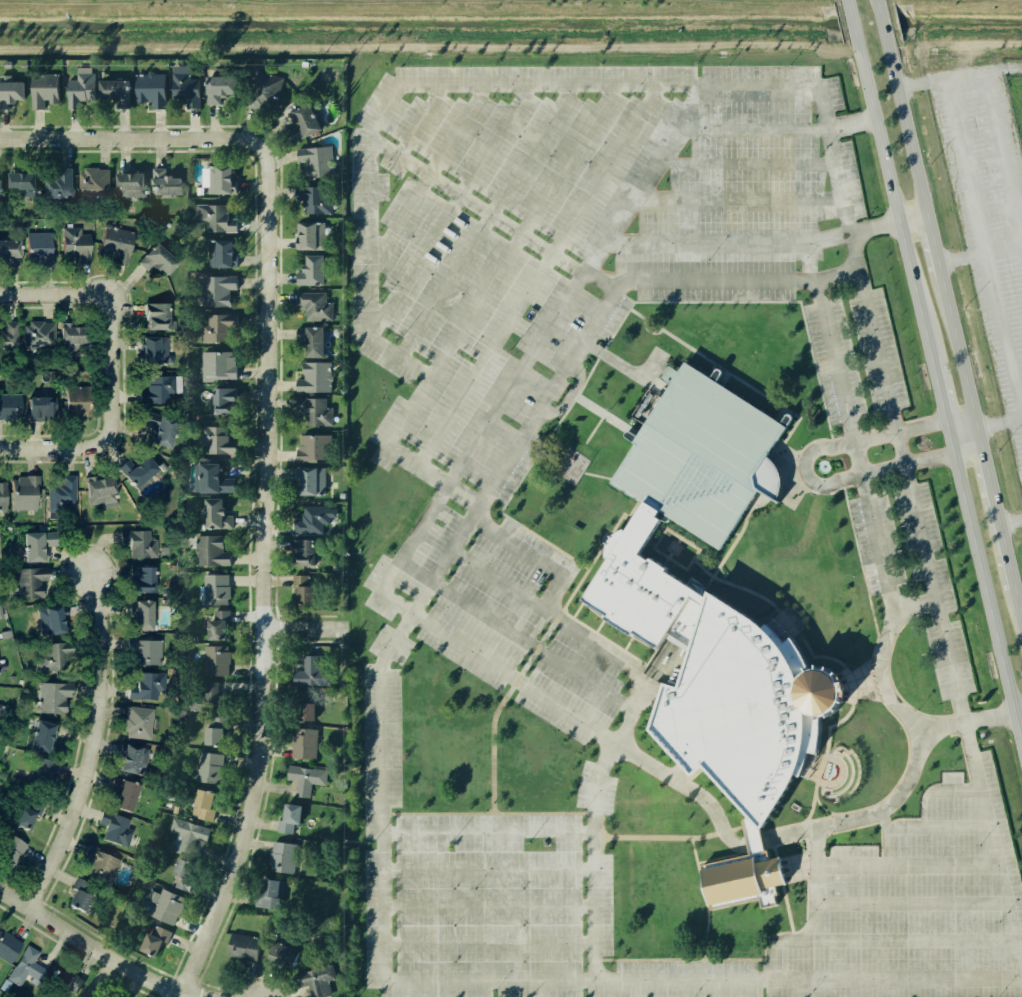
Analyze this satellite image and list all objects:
road: (881, 23)
road: (851, 26)
building: (6, 64)
road: (958, 76)
building: (80, 86)
building: (222, 86)
building: (187, 87)
building: (44, 88)
building: (152, 88)
building: (116, 90)
building: (265, 90)
building: (9, 91)
road: (386, 95)
building: (310, 119)
road: (417, 120)
road: (774, 131)
road: (906, 131)
road: (127, 138)
road: (1002, 157)
building: (316, 162)
road: (745, 162)
road: (424, 173)
building: (222, 180)
building: (94, 182)
building: (0, 183)
building: (132, 183)
building: (59, 184)
building: (167, 184)
building: (23, 185)
building: (318, 199)
road: (736, 200)
road: (475, 204)
road: (894, 208)
road: (447, 210)
building: (214, 217)
parking lot: (988, 218)
road: (912, 219)
road: (482, 220)
building: (313, 234)
building: (118, 243)
road: (751, 243)
road: (981, 245)
road: (1021, 245)
building: (75, 246)
road: (933, 246)
road: (1002, 247)
building: (40, 249)
building: (9, 251)
building: (222, 254)
road: (960, 256)
building: (160, 261)
road: (804, 263)
building: (314, 271)
road: (535, 275)
road: (581, 277)
road: (839, 277)
road: (600, 282)
road: (661, 283)
building: (218, 290)
road: (55, 295)
road: (480, 295)
building: (316, 304)
building: (158, 316)
building: (215, 328)
building: (39, 332)
building: (7, 335)
building: (73, 337)
building: (313, 339)
building: (155, 352)
road: (958, 352)
building: (220, 363)
road: (110, 368)
building: (317, 377)
parking lot: (863, 388)
building: (162, 391)
building: (226, 400)
road: (939, 401)
building: (79, 404)
building: (10, 405)
building: (42, 408)
building: (317, 410)
road: (999, 422)
road: (894, 429)
building: (161, 430)
road: (962, 433)
building: (219, 441)
road: (52, 448)
building: (316, 448)
building: (700, 458)
road: (984, 464)
road: (804, 470)
building: (146, 475)
building: (208, 477)
building: (314, 479)
building: (100, 491)
building: (25, 493)
building: (62, 493)
building: (3, 497)
building: (216, 511)
building: (314, 518)
road: (1010, 520)
building: (139, 543)
building: (34, 546)
road: (520, 547)
building: (213, 549)
building: (306, 552)
road: (1007, 564)
road: (261, 575)
road: (89, 579)
building: (144, 580)
building: (29, 584)
building: (216, 588)
building: (305, 589)
road: (384, 593)
road: (985, 596)
road: (534, 606)
road: (889, 613)
building: (146, 615)
building: (0, 616)
building: (56, 620)
building: (219, 623)
road: (303, 627)
building: (321, 627)
building: (4, 635)
road: (524, 643)
building: (145, 653)
building: (55, 658)
building: (216, 659)
building: (313, 672)
road: (517, 677)
building: (143, 688)
building: (54, 698)
building: (206, 698)
building: (306, 707)
building: (1, 712)
road: (1017, 712)
building: (140, 723)
building: (215, 735)
building: (47, 739)
building: (305, 743)
road: (90, 752)
building: (135, 761)
building: (211, 766)
building: (41, 774)
building: (306, 777)
building: (129, 796)
building: (204, 803)
building: (24, 814)
building: (292, 817)
building: (117, 830)
building: (187, 833)
road: (488, 833)
road: (595, 841)
building: (9, 852)
building: (285, 857)
building: (102, 863)
road: (488, 867)
building: (185, 872)
parking lot: (893, 873)
building: (269, 892)
building: (81, 895)
building: (168, 906)
road: (488, 908)
building: (152, 939)
road: (489, 943)
building: (7, 947)
building: (244, 947)
road: (97, 952)
building: (289, 955)
building: (25, 969)
building: (67, 981)
building: (313, 981)
road: (497, 981)
building: (92, 992)

